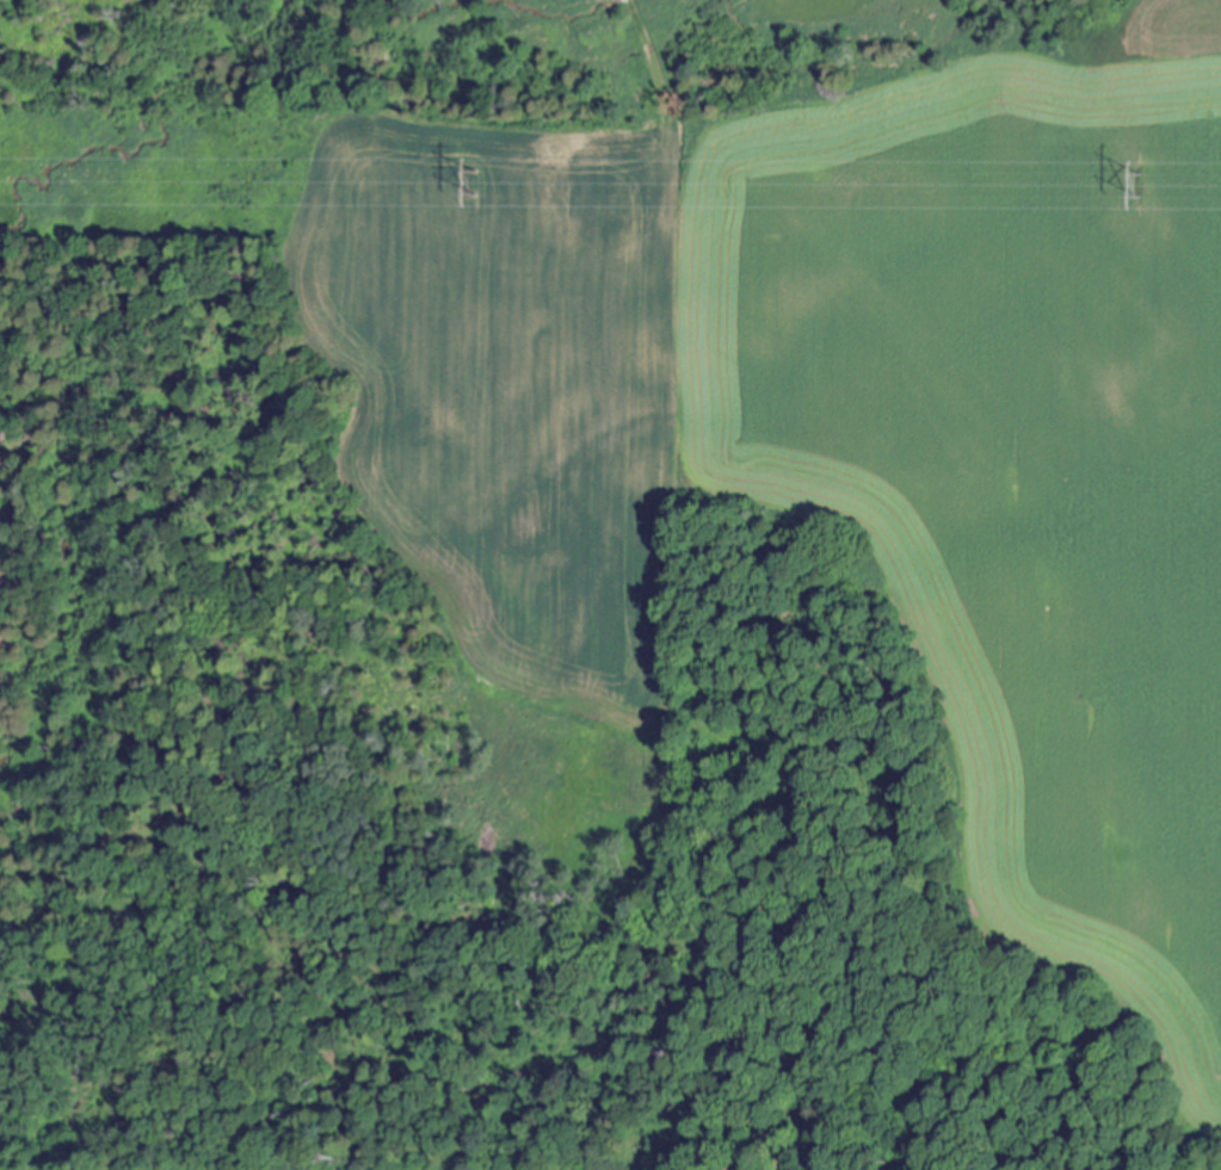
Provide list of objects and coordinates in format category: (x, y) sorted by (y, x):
power tower: (476, 180)
power tower: (1141, 184)

